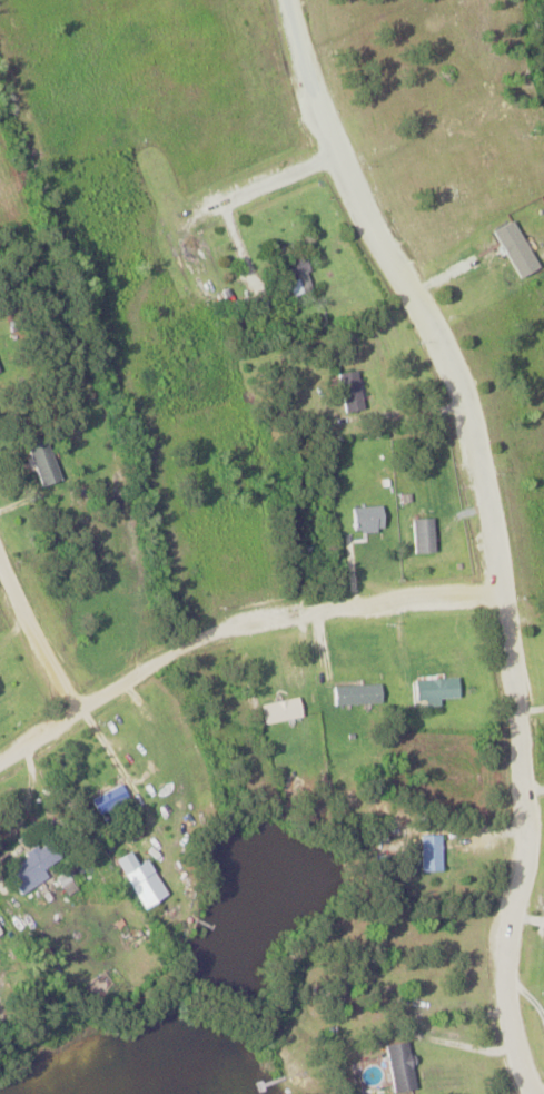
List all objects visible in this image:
road: (263, 187)
building: (511, 253)
building: (296, 276)
building: (0, 369)
building: (350, 391)
building: (42, 462)
building: (367, 520)
road: (486, 530)
building: (423, 535)
road: (230, 620)
road: (29, 645)
building: (436, 689)
building: (356, 694)
building: (281, 711)
building: (109, 800)
building: (431, 854)
building: (34, 865)
building: (140, 879)
road: (463, 1045)
building: (398, 1067)

